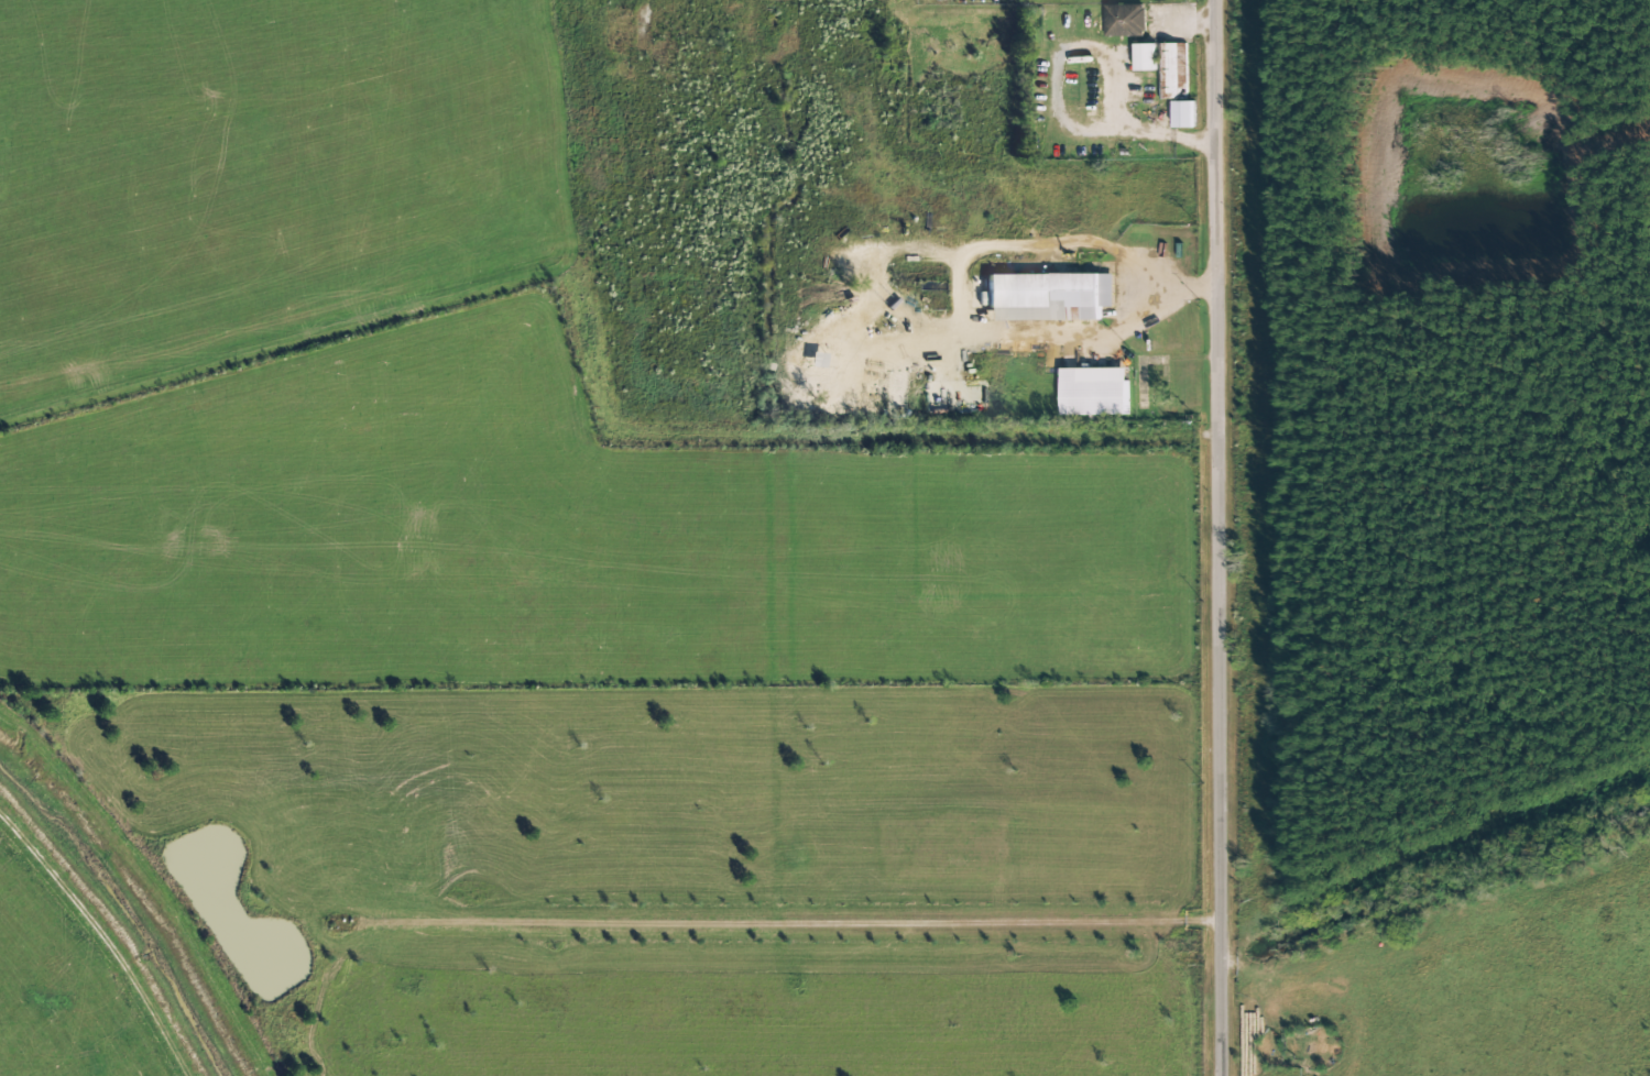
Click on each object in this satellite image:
building: (1125, 21)
building: (1165, 67)
building: (1183, 114)
building: (1048, 297)
building: (1094, 392)
road: (1219, 538)

